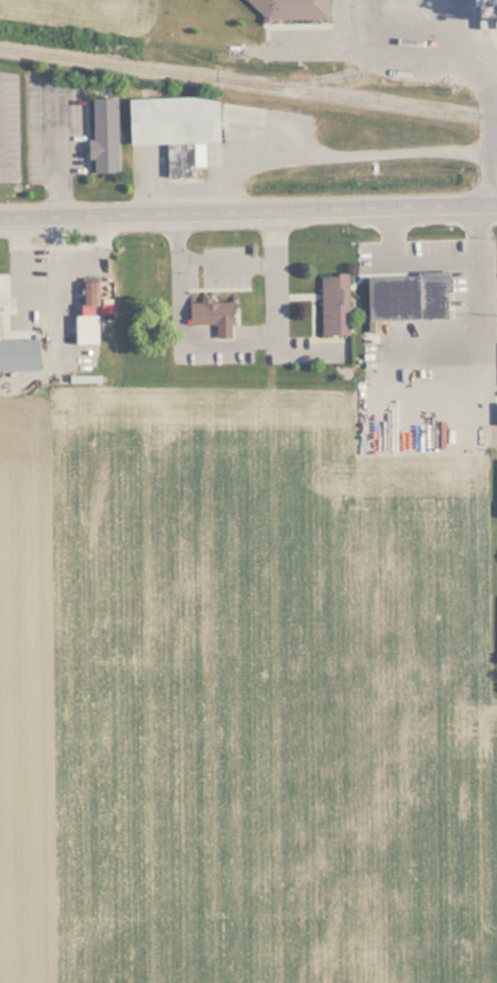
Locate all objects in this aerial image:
building: (287, 9)
railway: (248, 83)
building: (186, 127)
building: (100, 136)
road: (248, 210)
road: (225, 261)
building: (87, 292)
building: (404, 296)
building: (332, 304)
road: (63, 310)
building: (210, 316)
building: (14, 340)
road: (227, 344)

